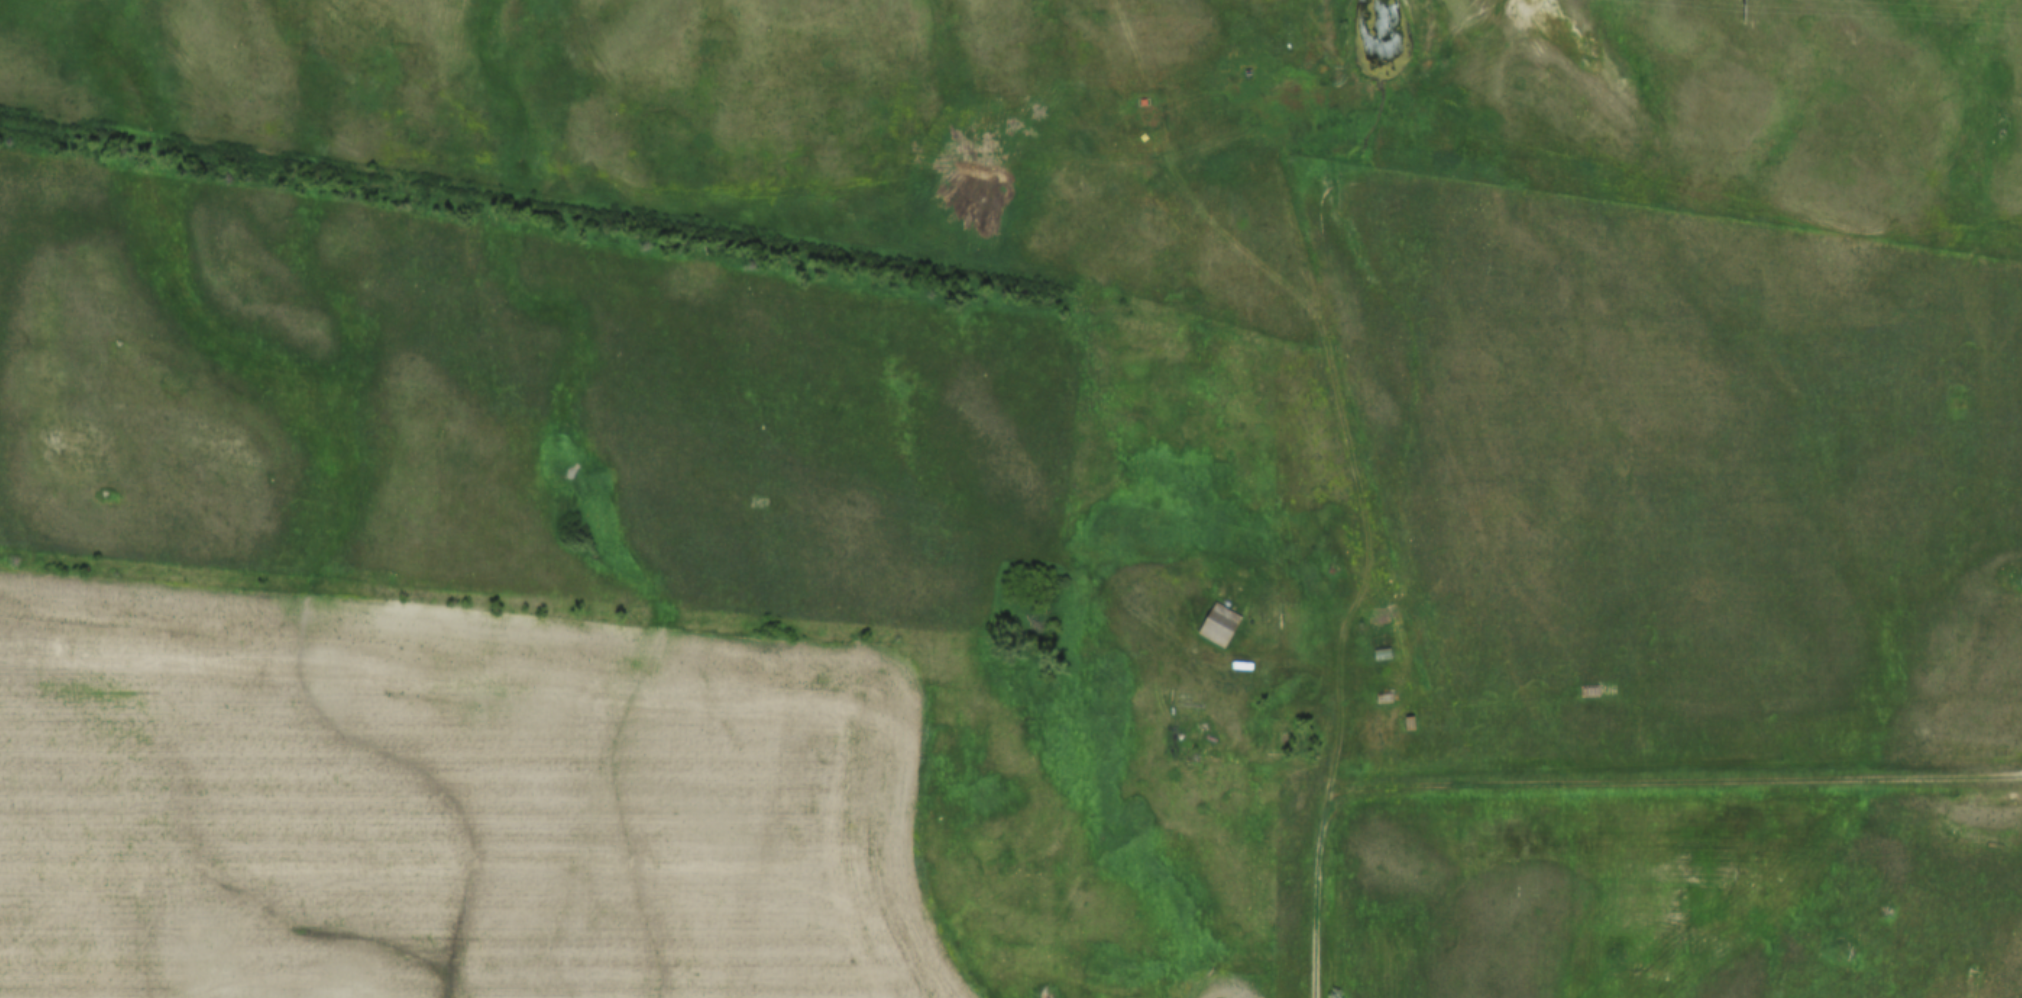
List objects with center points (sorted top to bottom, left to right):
building: (1215, 622)
building: (1383, 654)
building: (1410, 722)
road: (1677, 780)
road: (1318, 898)

